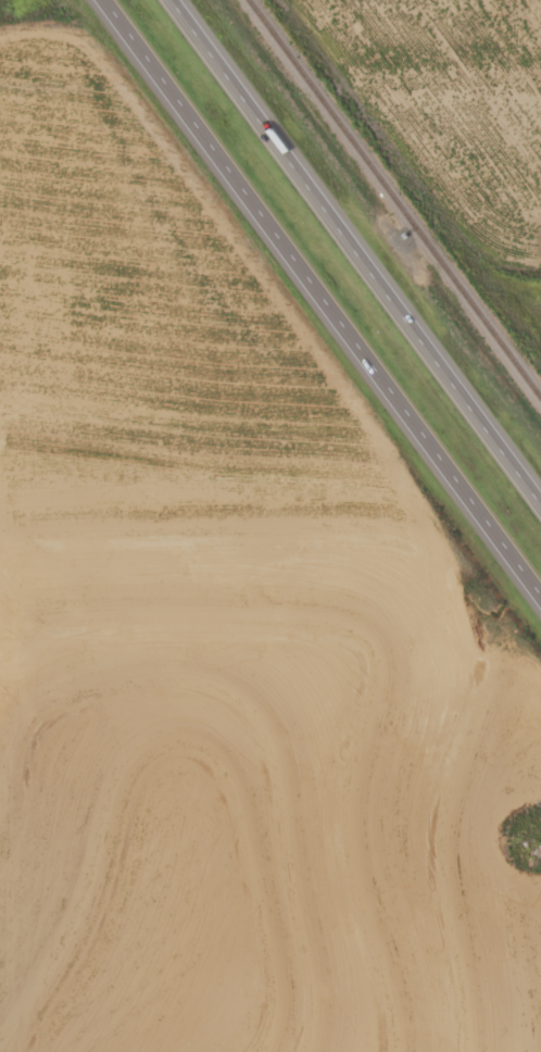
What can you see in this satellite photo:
railway: (399, 189)
road: (357, 245)
road: (322, 299)

